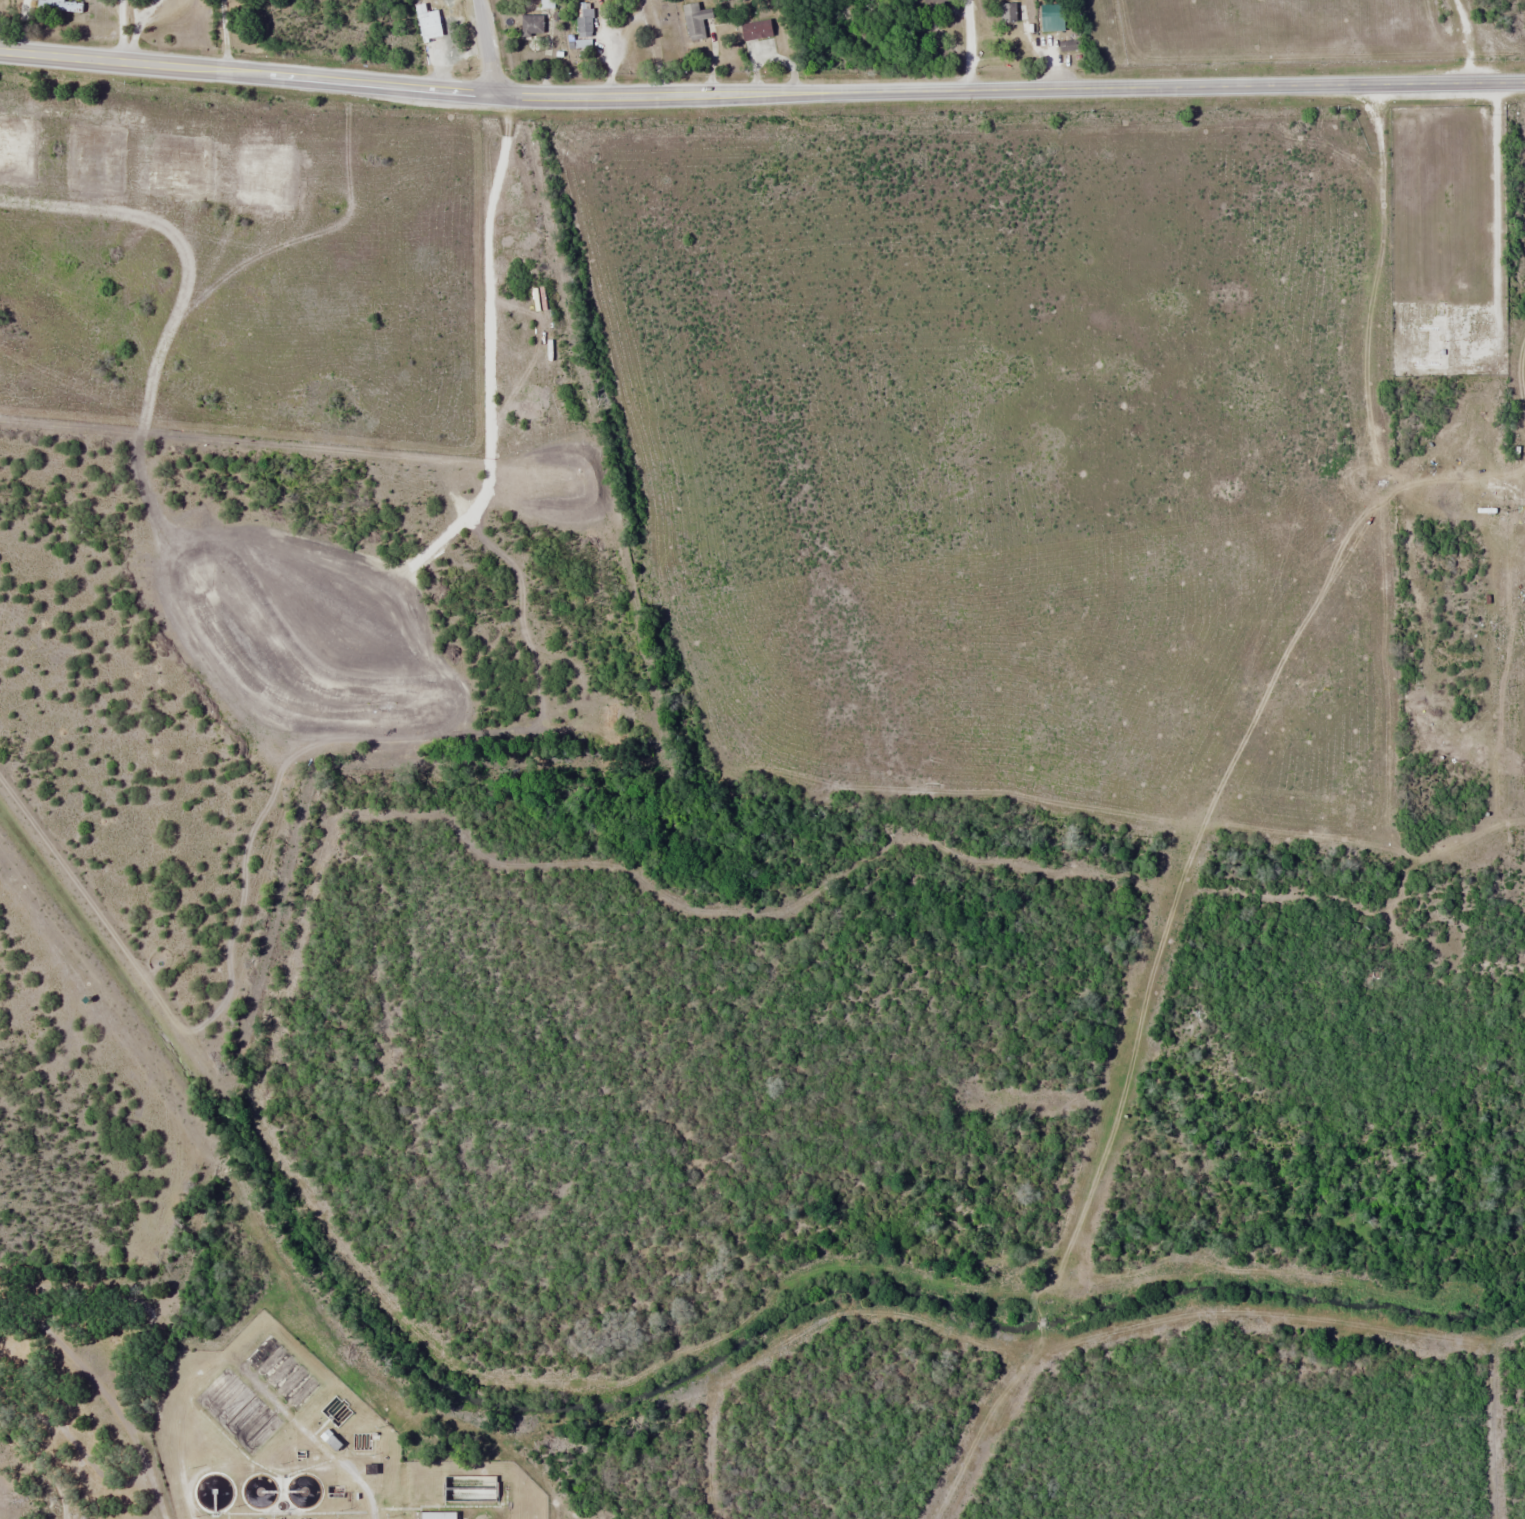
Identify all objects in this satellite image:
building: (546, 3)
building: (1006, 12)
building: (1050, 17)
airport: (1315, 20)
building: (427, 22)
building: (583, 22)
building: (531, 24)
building: (755, 29)
road: (1467, 40)
road: (487, 47)
road: (761, 93)
road: (1497, 446)
wastewater plant: (303, 1444)
building: (436, 1515)

